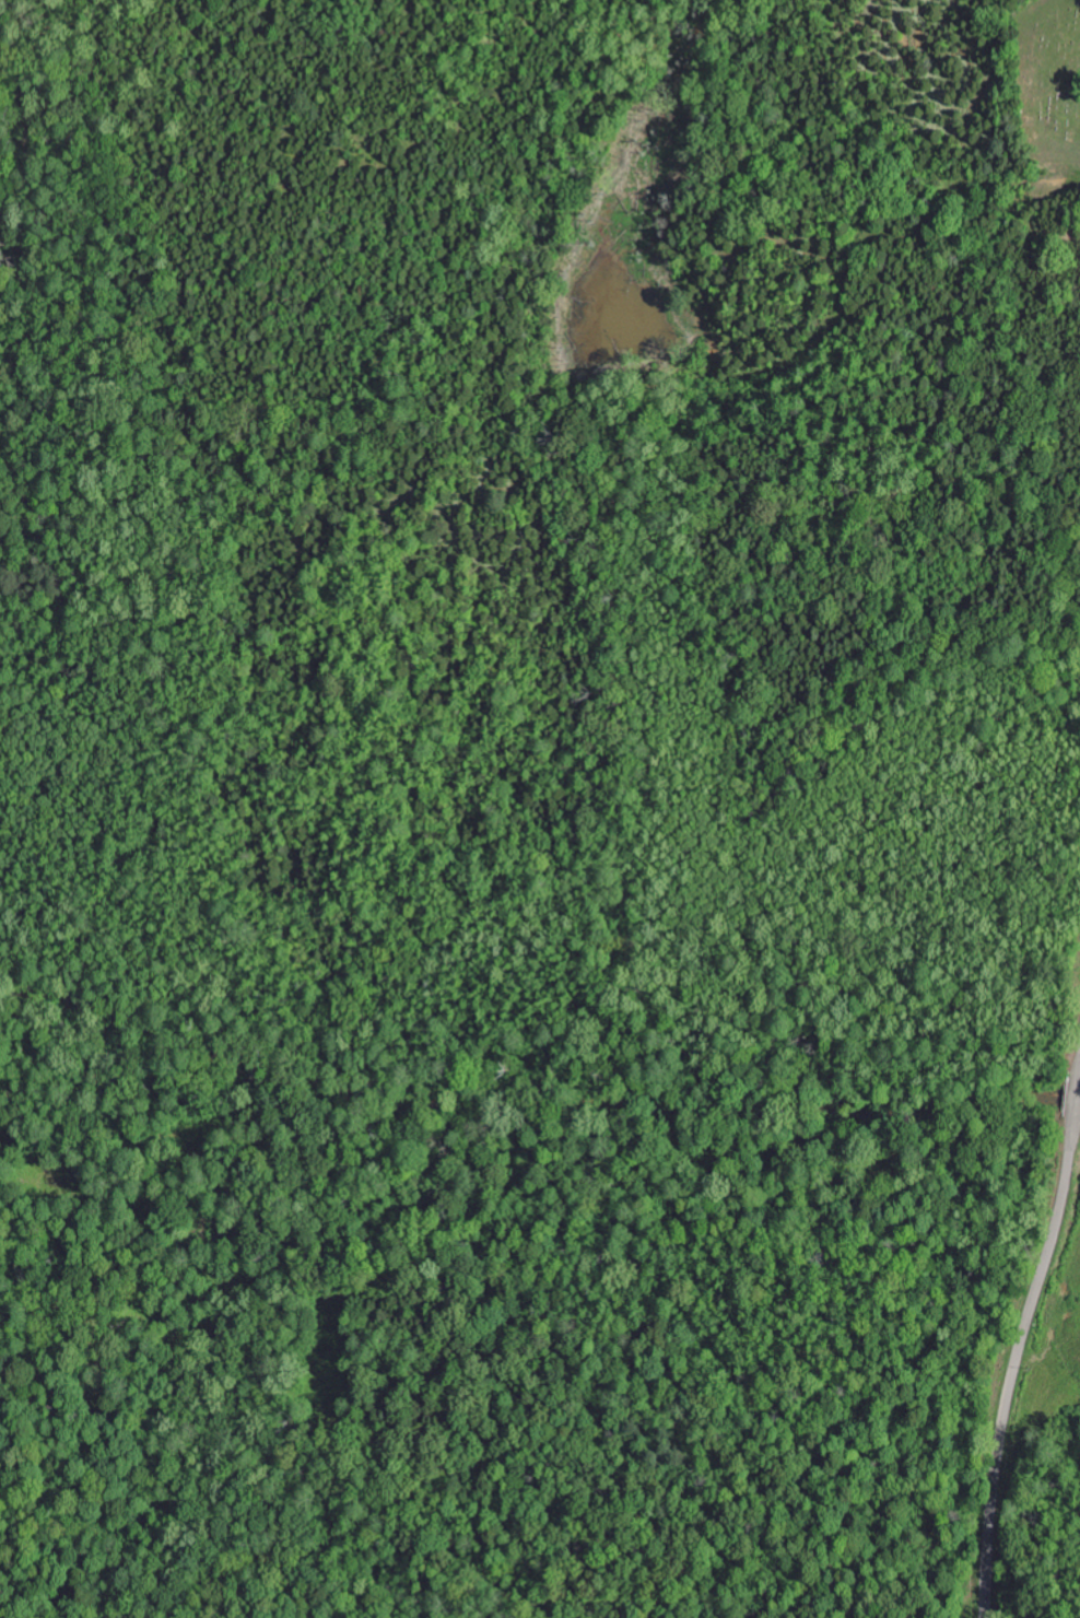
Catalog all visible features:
park: (1046, 86)
road: (1024, 1338)

